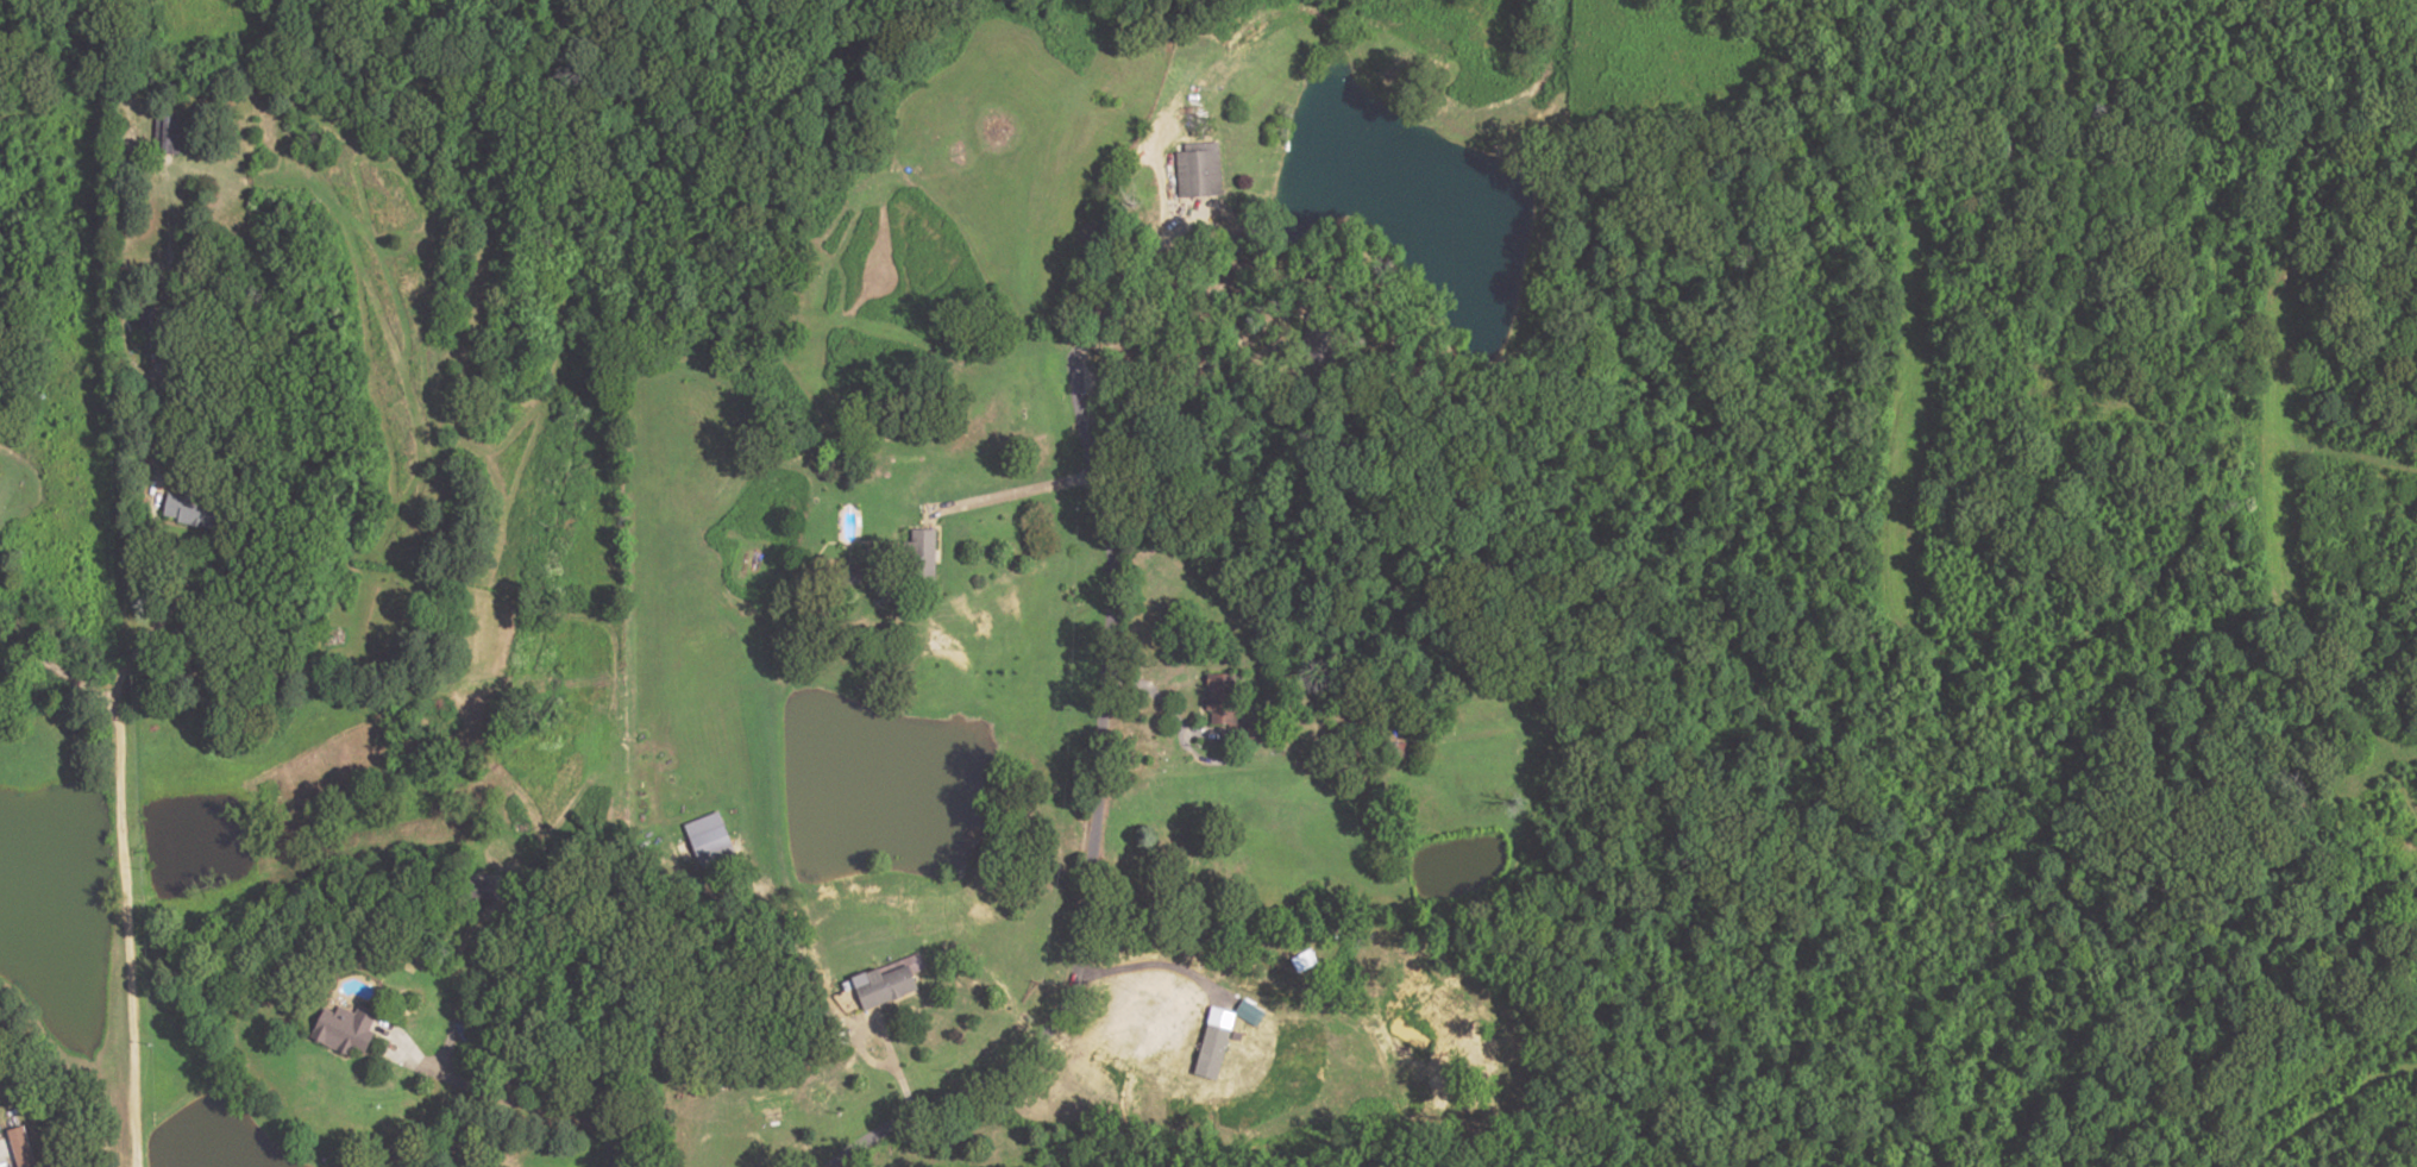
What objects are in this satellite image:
building: (163, 134)
building: (1194, 174)
road: (1130, 278)
building: (145, 316)
building: (1320, 340)
road: (1185, 371)
road: (1013, 494)
building: (187, 510)
building: (918, 556)
road: (56, 667)
building: (1216, 698)
road: (1162, 704)
road: (120, 815)
road: (1096, 824)
building: (704, 834)
road: (1151, 962)
building: (886, 979)
building: (847, 998)
building: (1248, 1011)
building: (340, 1028)
building: (1212, 1042)
road: (358, 1055)
road: (893, 1078)
road: (529, 1091)
building: (15, 1147)

